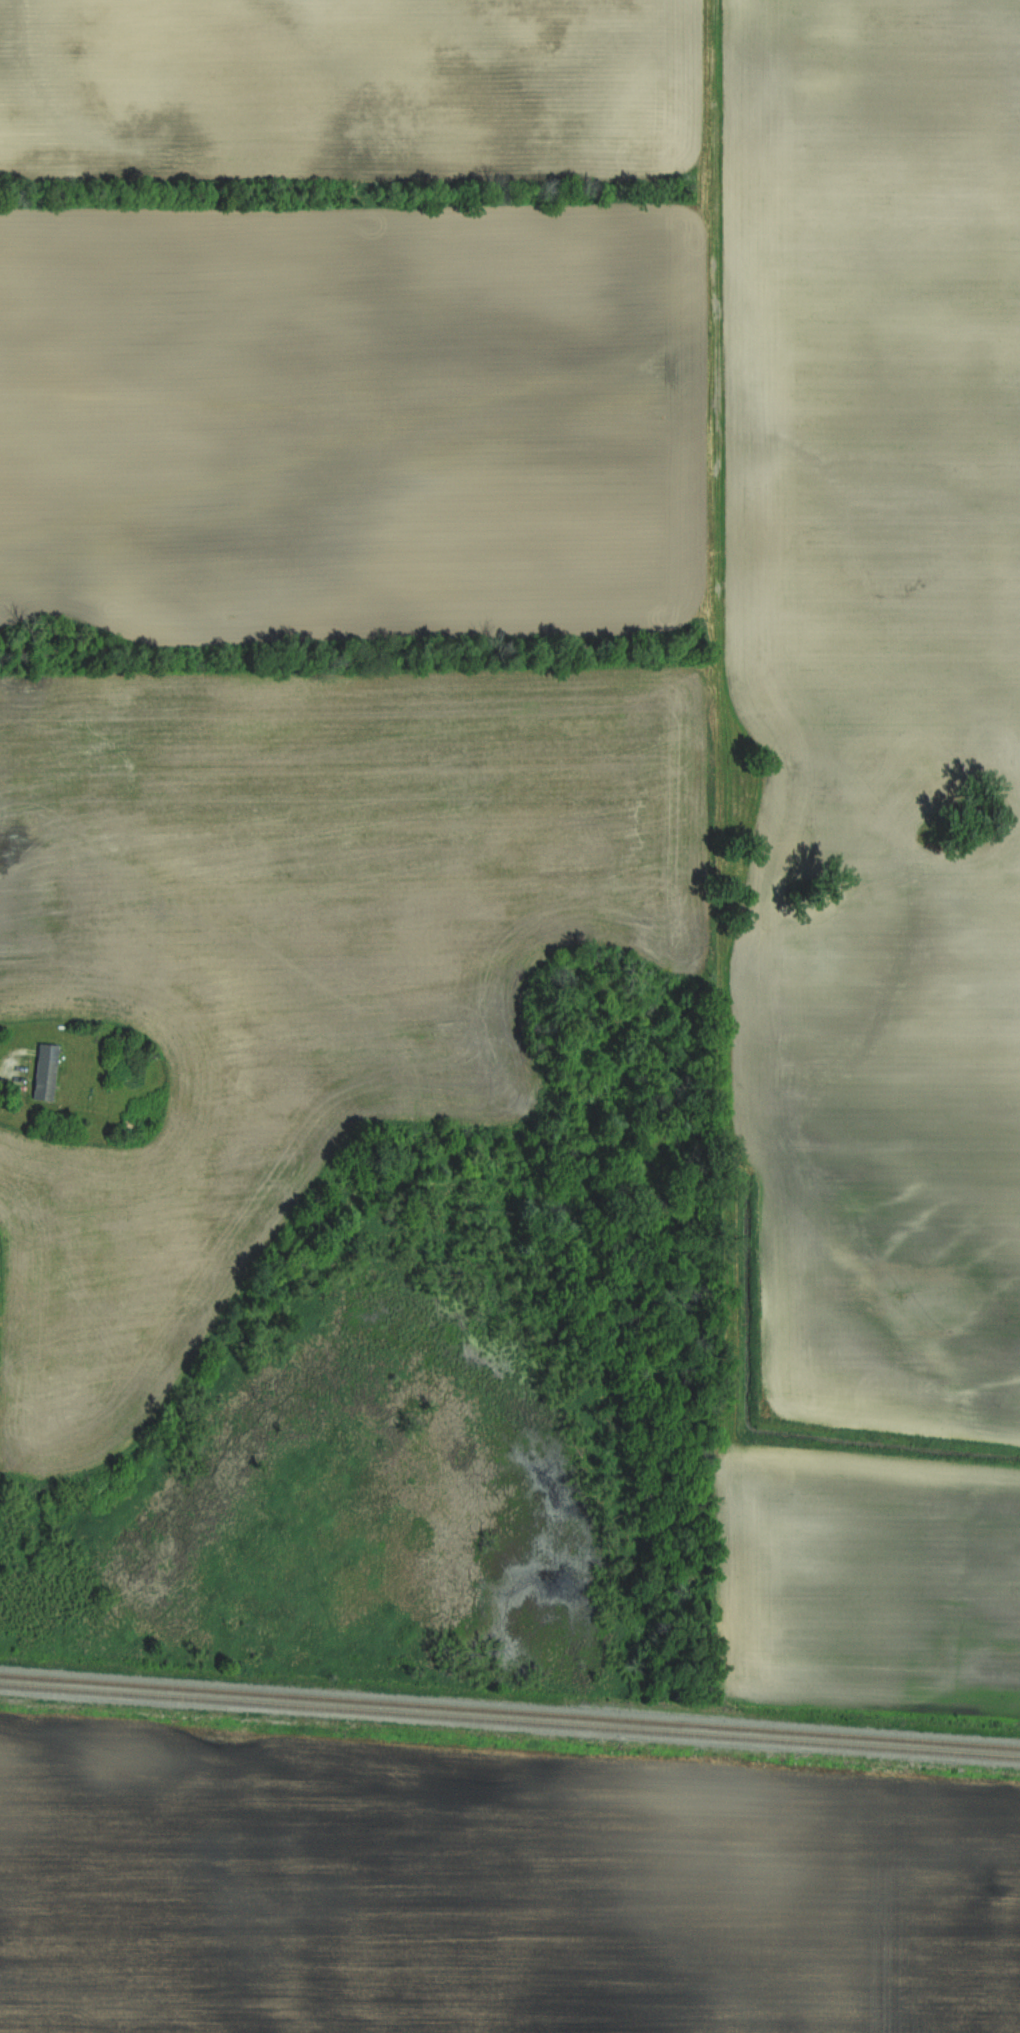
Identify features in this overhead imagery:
building: (752, 786)
road: (5, 1071)
building: (45, 1071)
railway: (510, 1711)
railway: (510, 1719)

